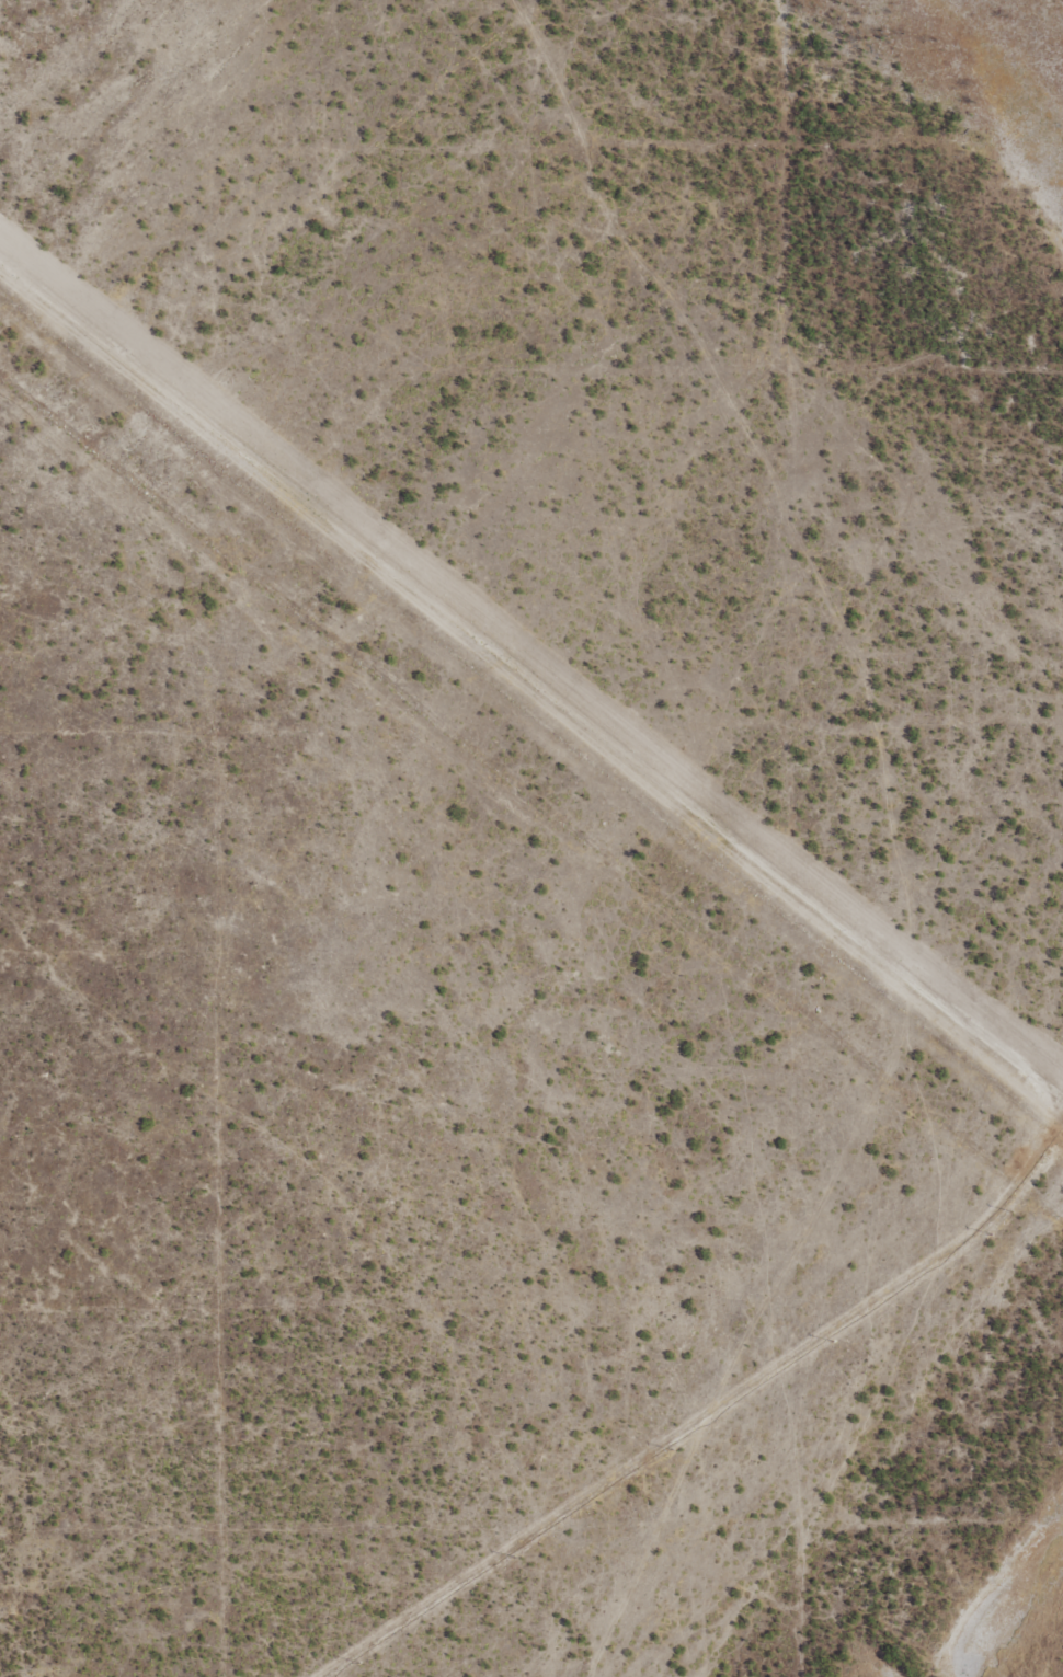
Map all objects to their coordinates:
road: (835, 842)

